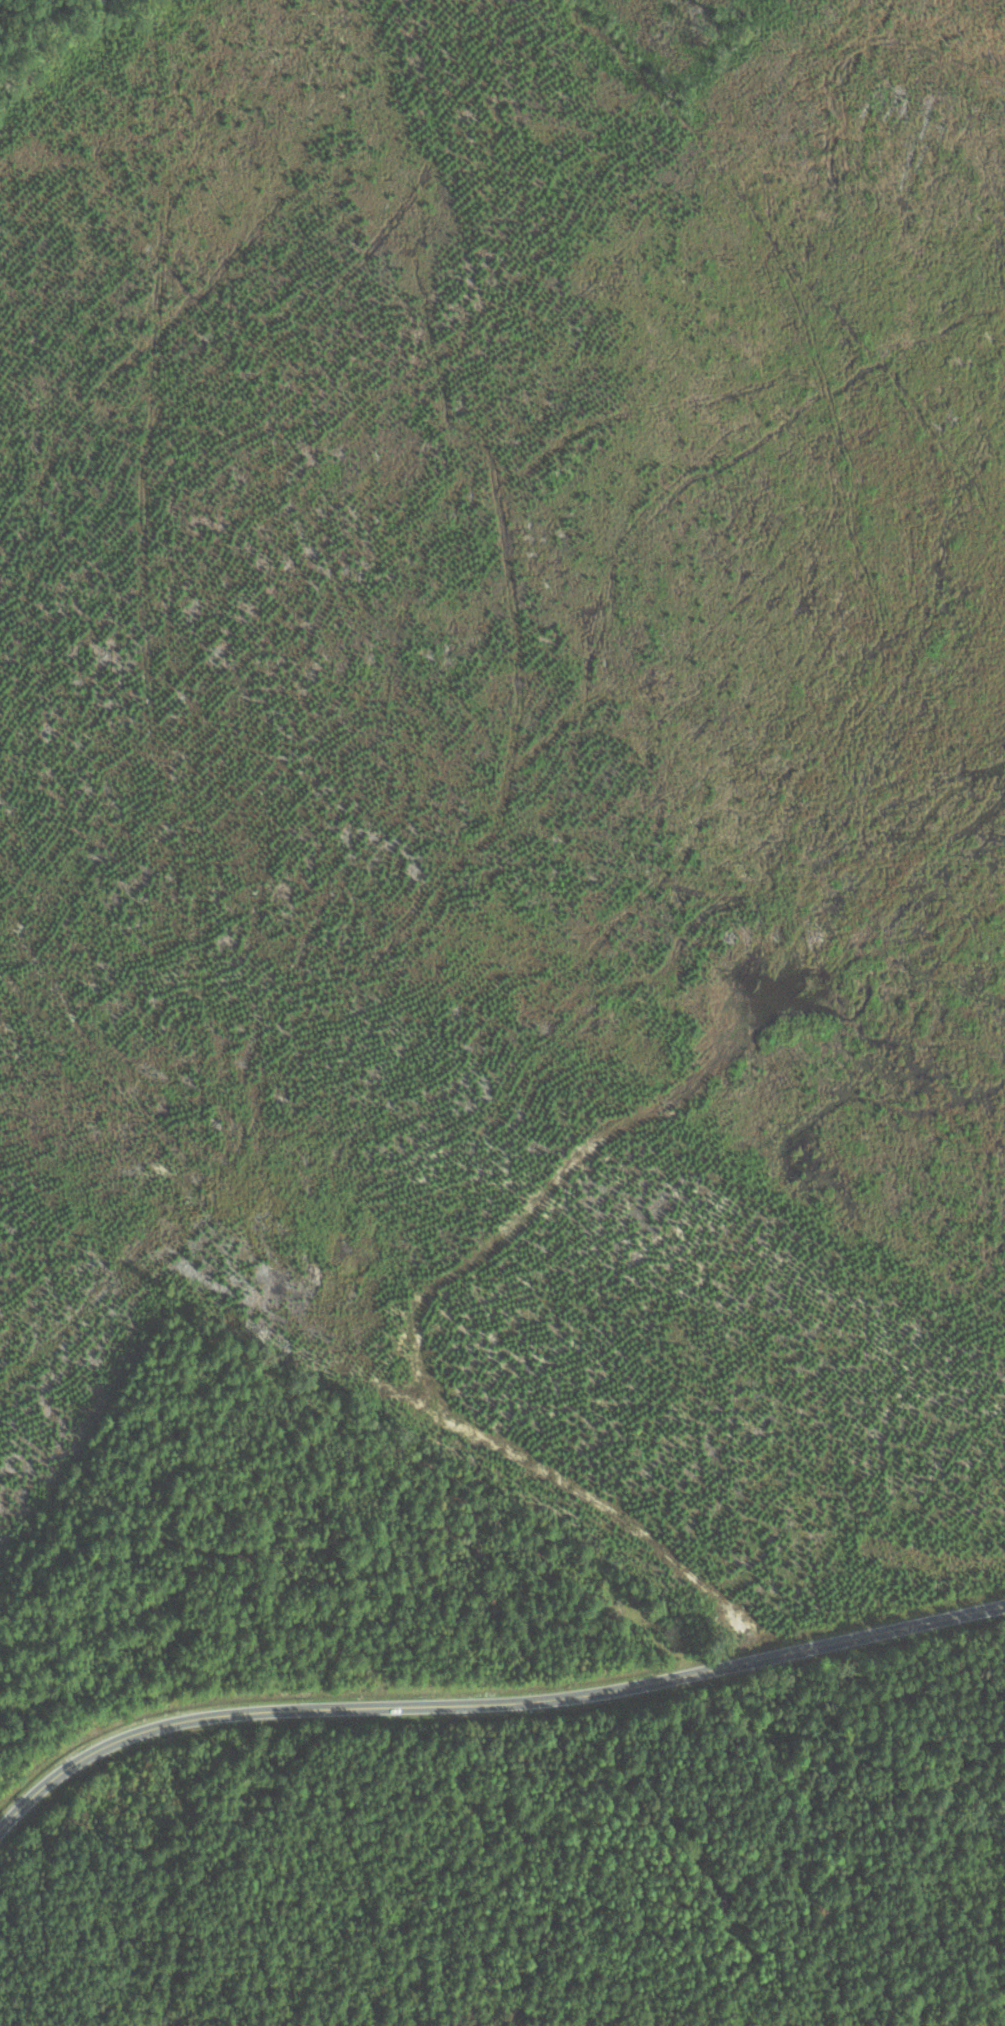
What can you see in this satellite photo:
road: (490, 1706)

